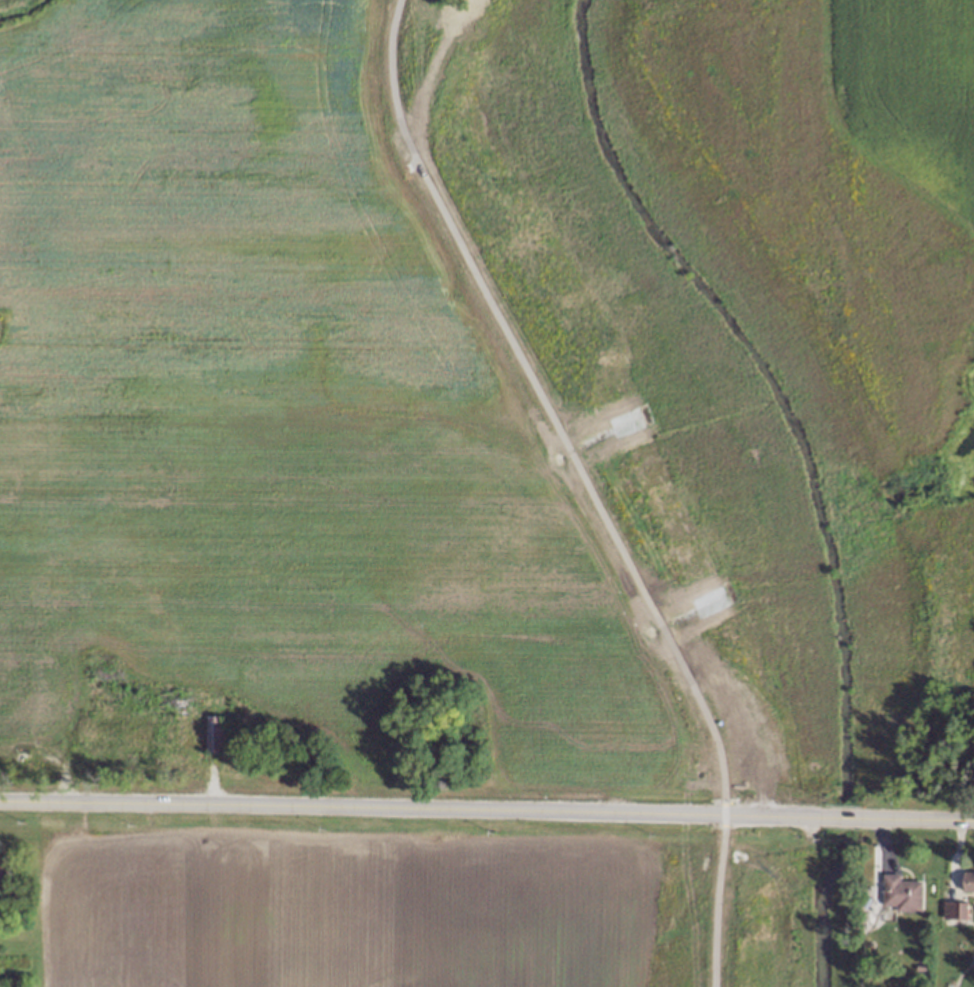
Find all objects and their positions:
crop: (898, 69)
road: (542, 404)
crop: (280, 416)
park: (724, 419)
building: (213, 734)
road: (53, 753)
road: (413, 810)
road: (722, 816)
road: (848, 819)
road: (922, 821)
building: (4, 872)
building: (968, 882)
building: (901, 893)
crop: (341, 902)
road: (714, 908)
building: (953, 910)

